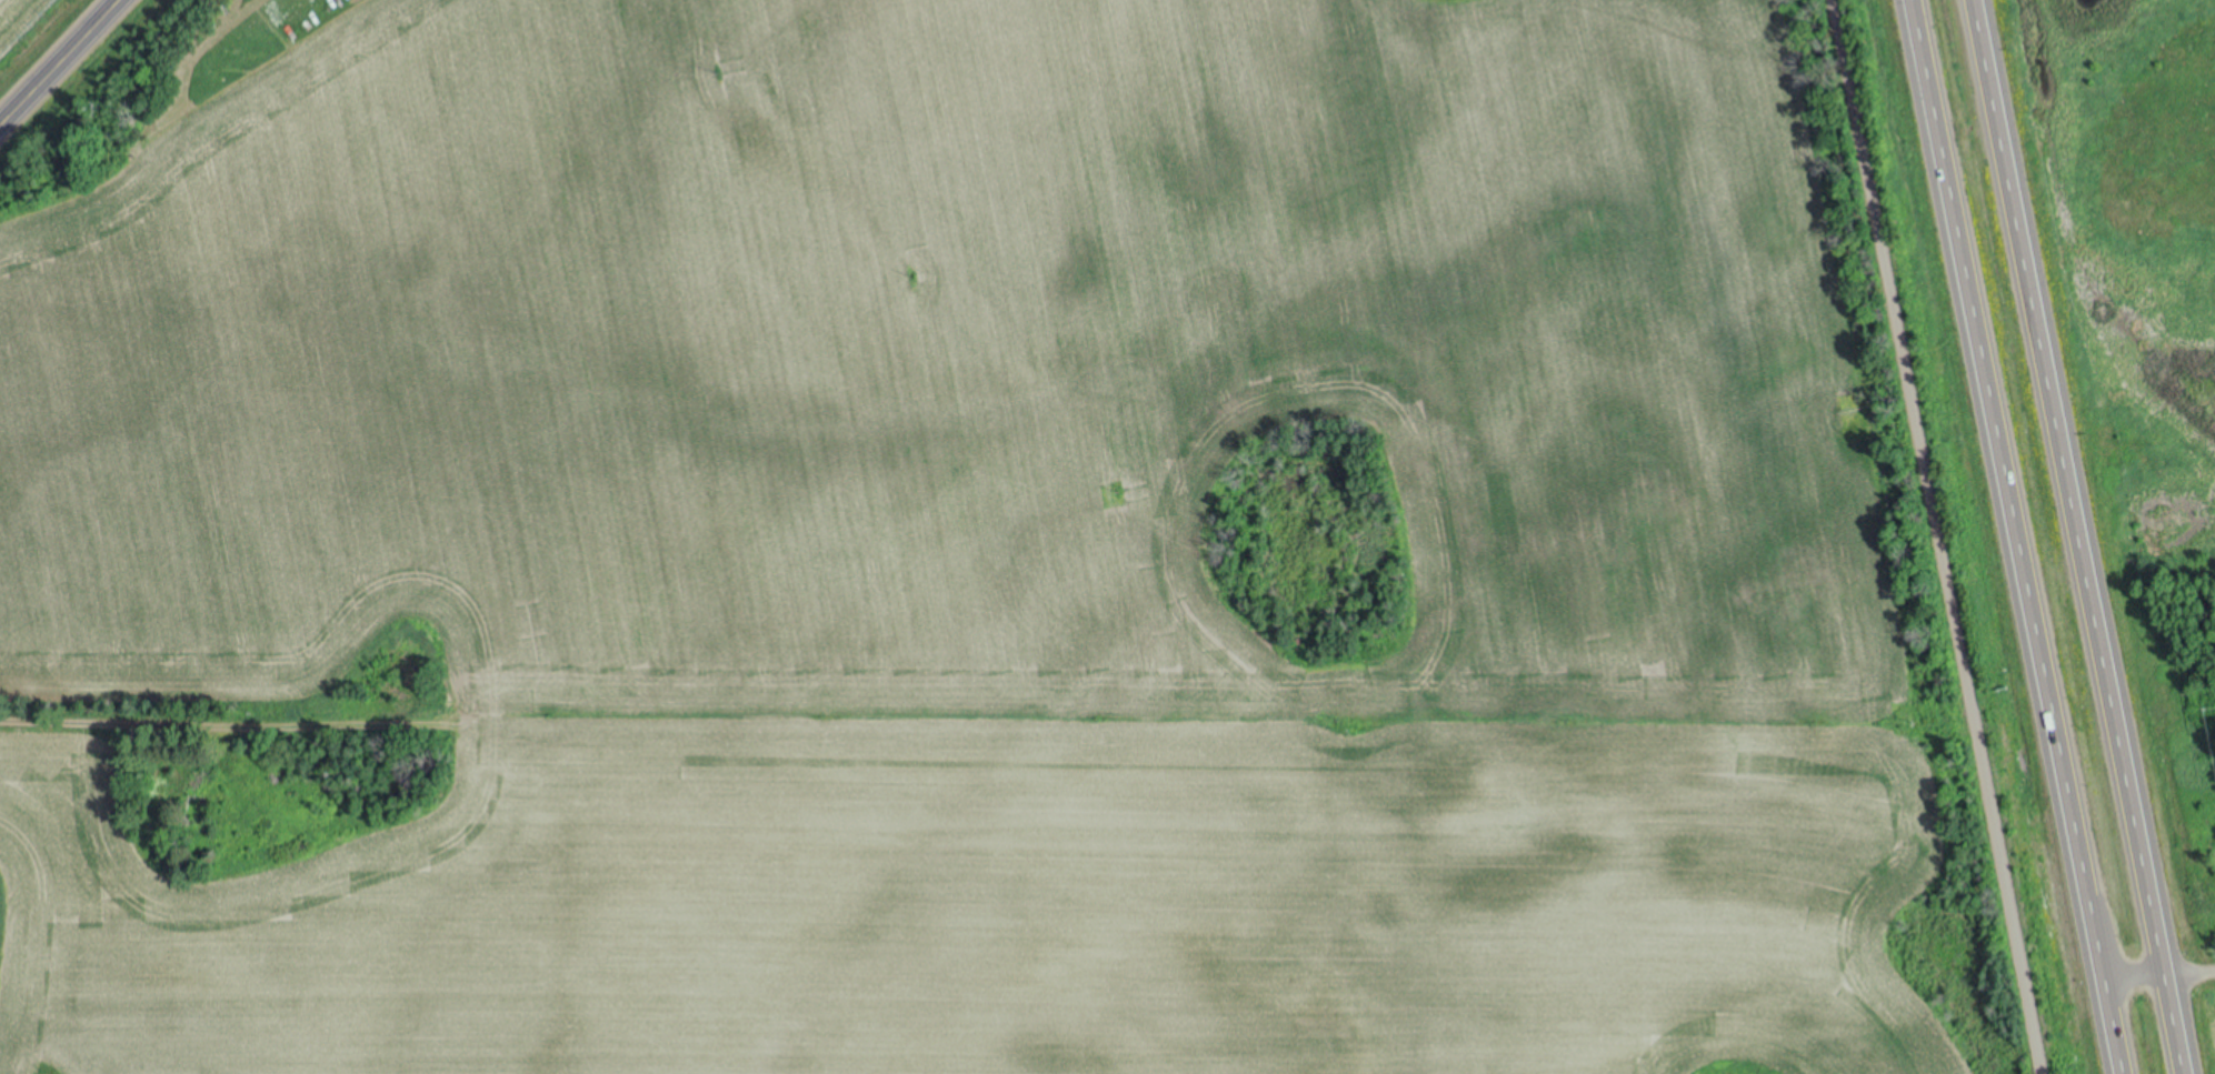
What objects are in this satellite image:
road: (62, 66)
road: (1935, 536)
road: (2023, 536)
road: (2077, 536)
road: (2161, 972)

